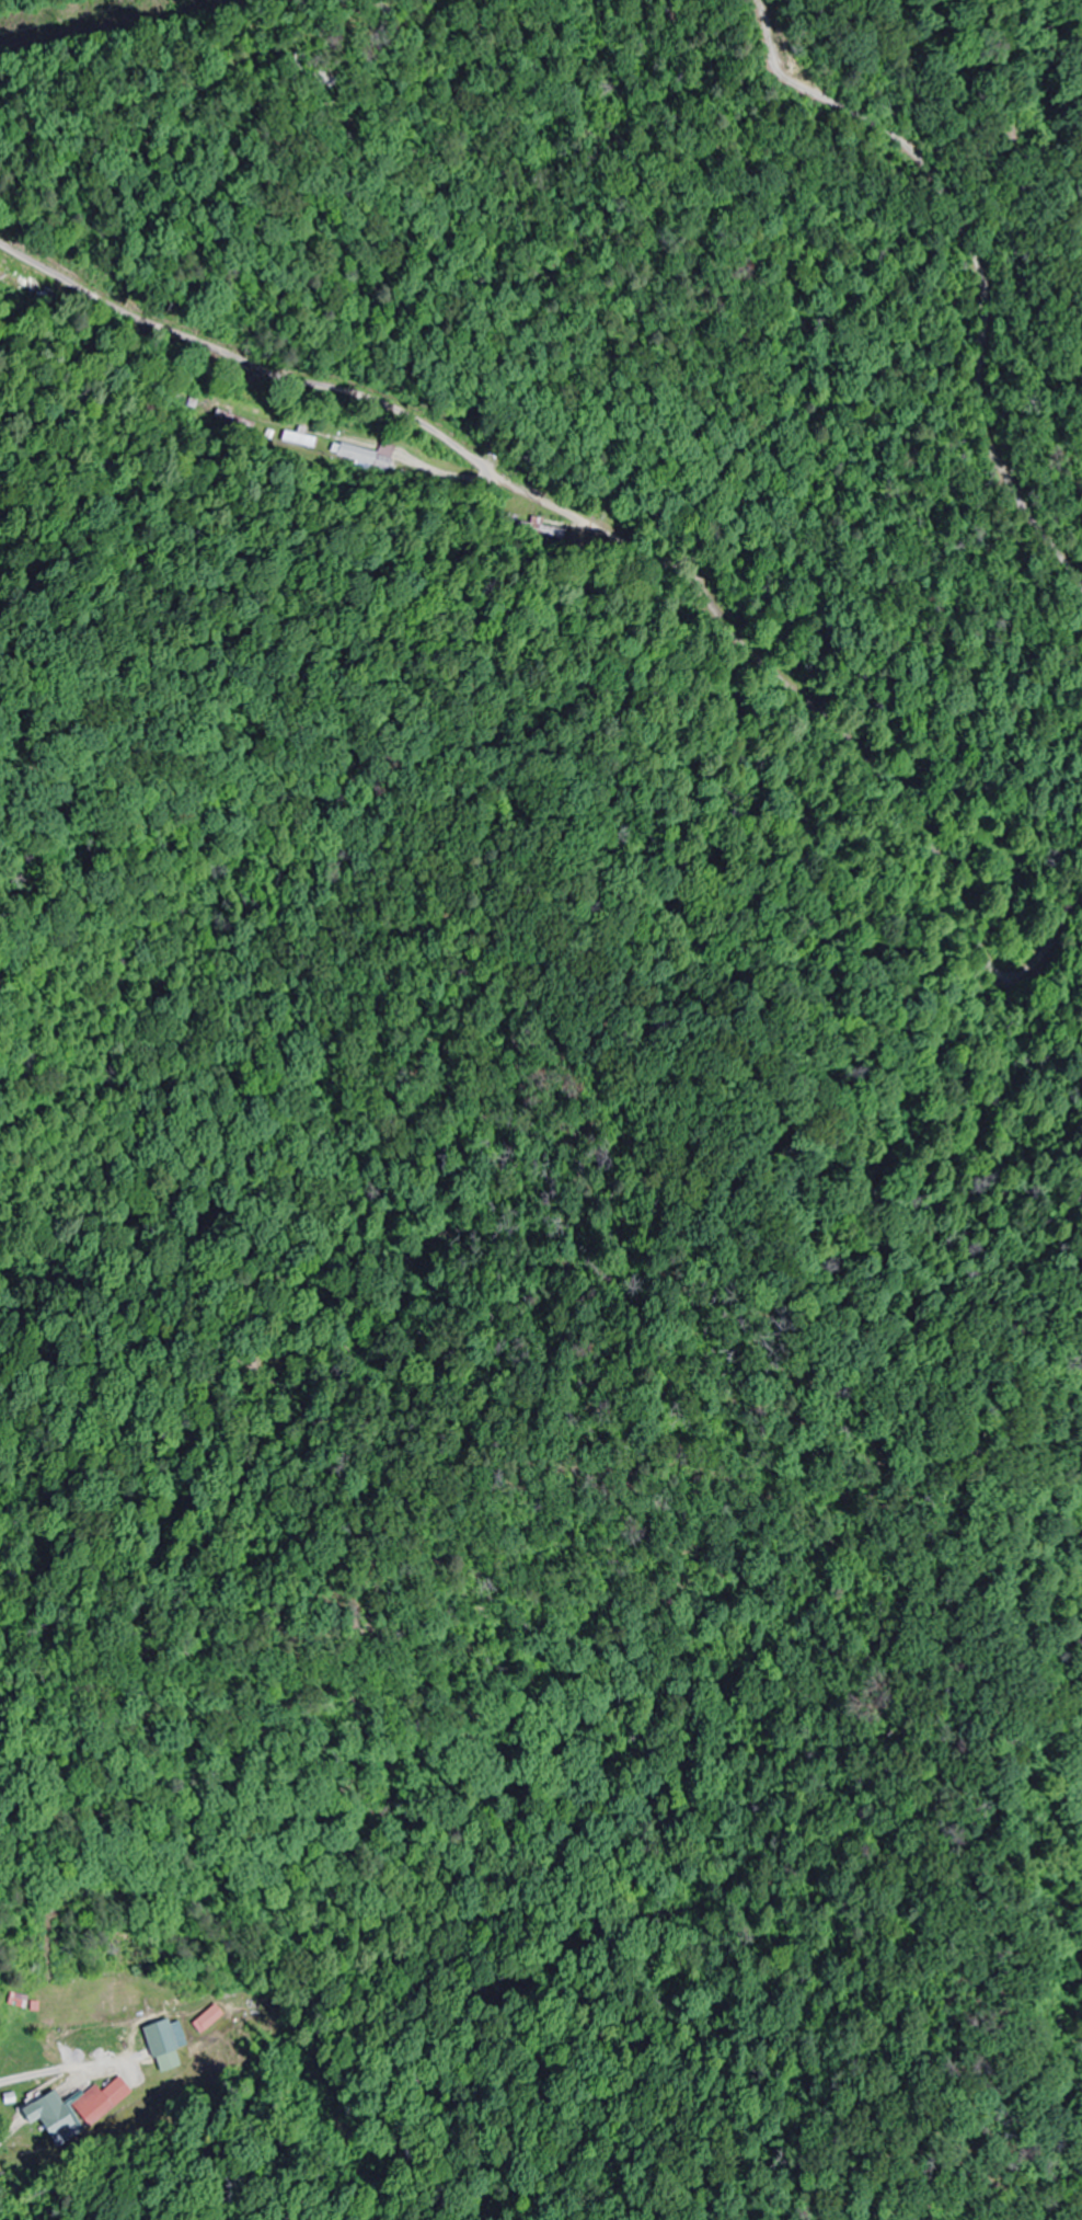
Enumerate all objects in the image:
road: (926, 145)
road: (12, 252)
road: (978, 386)
road: (1050, 895)
building: (12, 2001)
building: (205, 2018)
building: (162, 2048)
building: (101, 2102)
building: (54, 2120)
road: (8, 2139)

